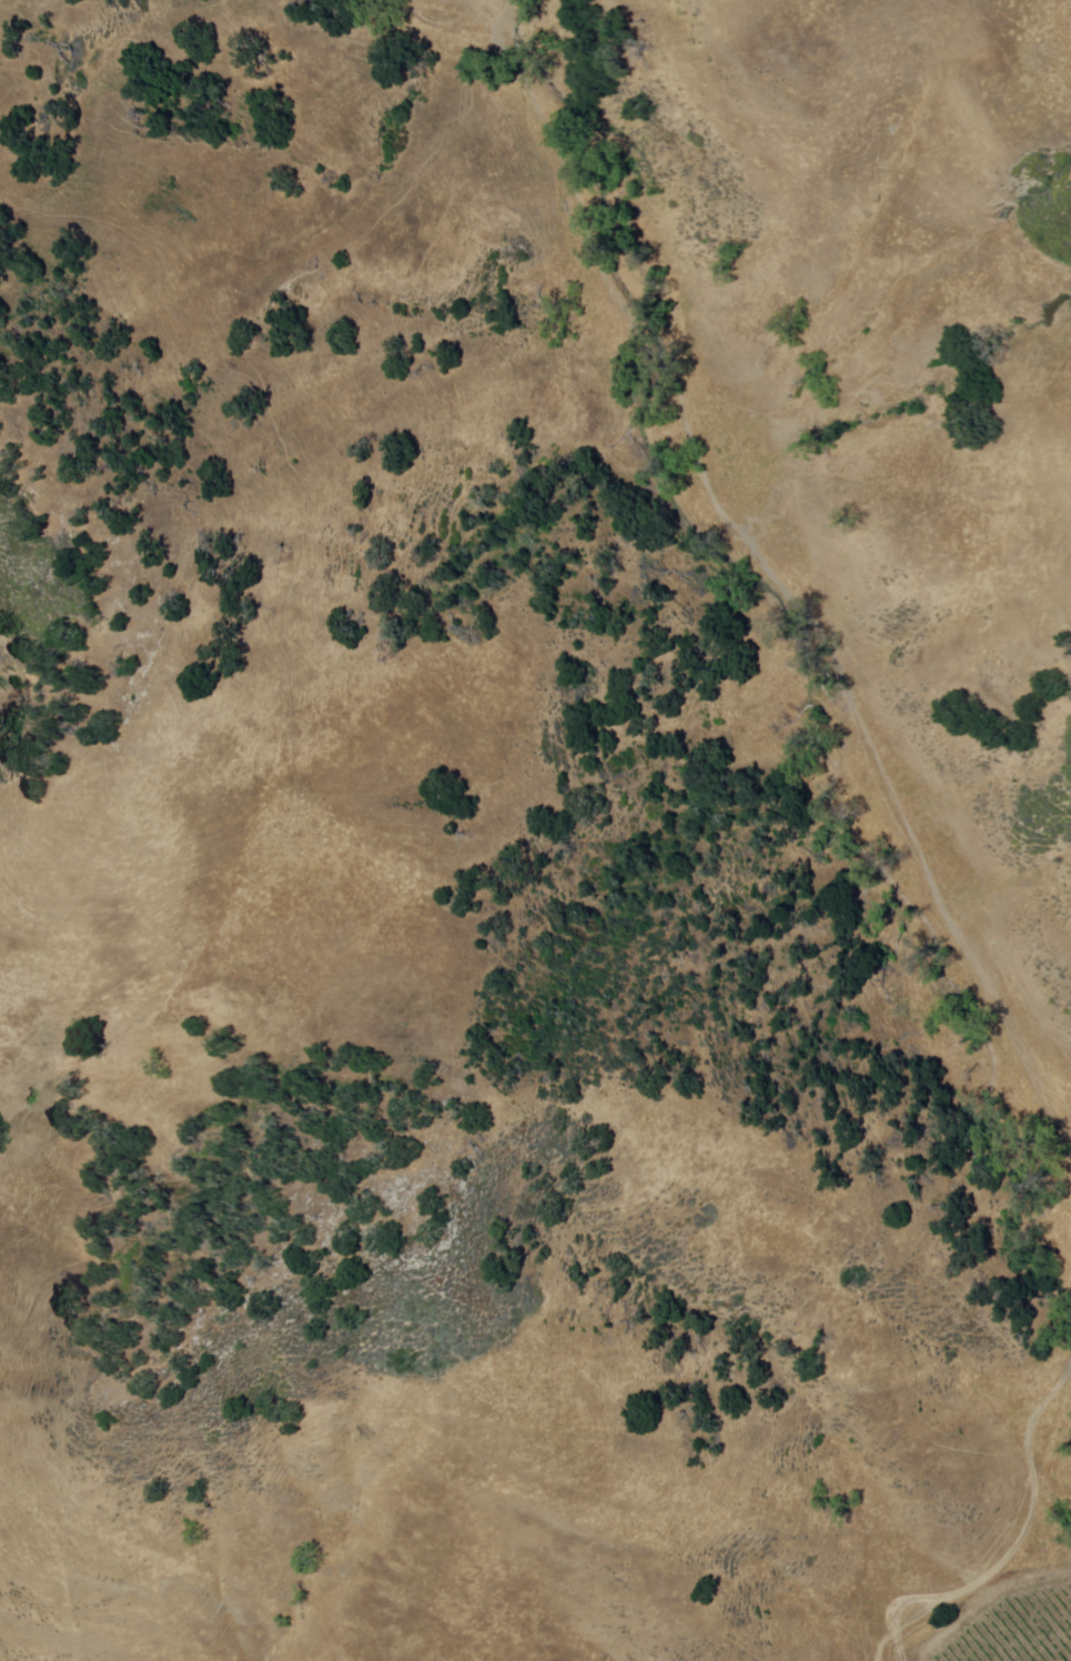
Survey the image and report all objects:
crop: (993, 1617)

